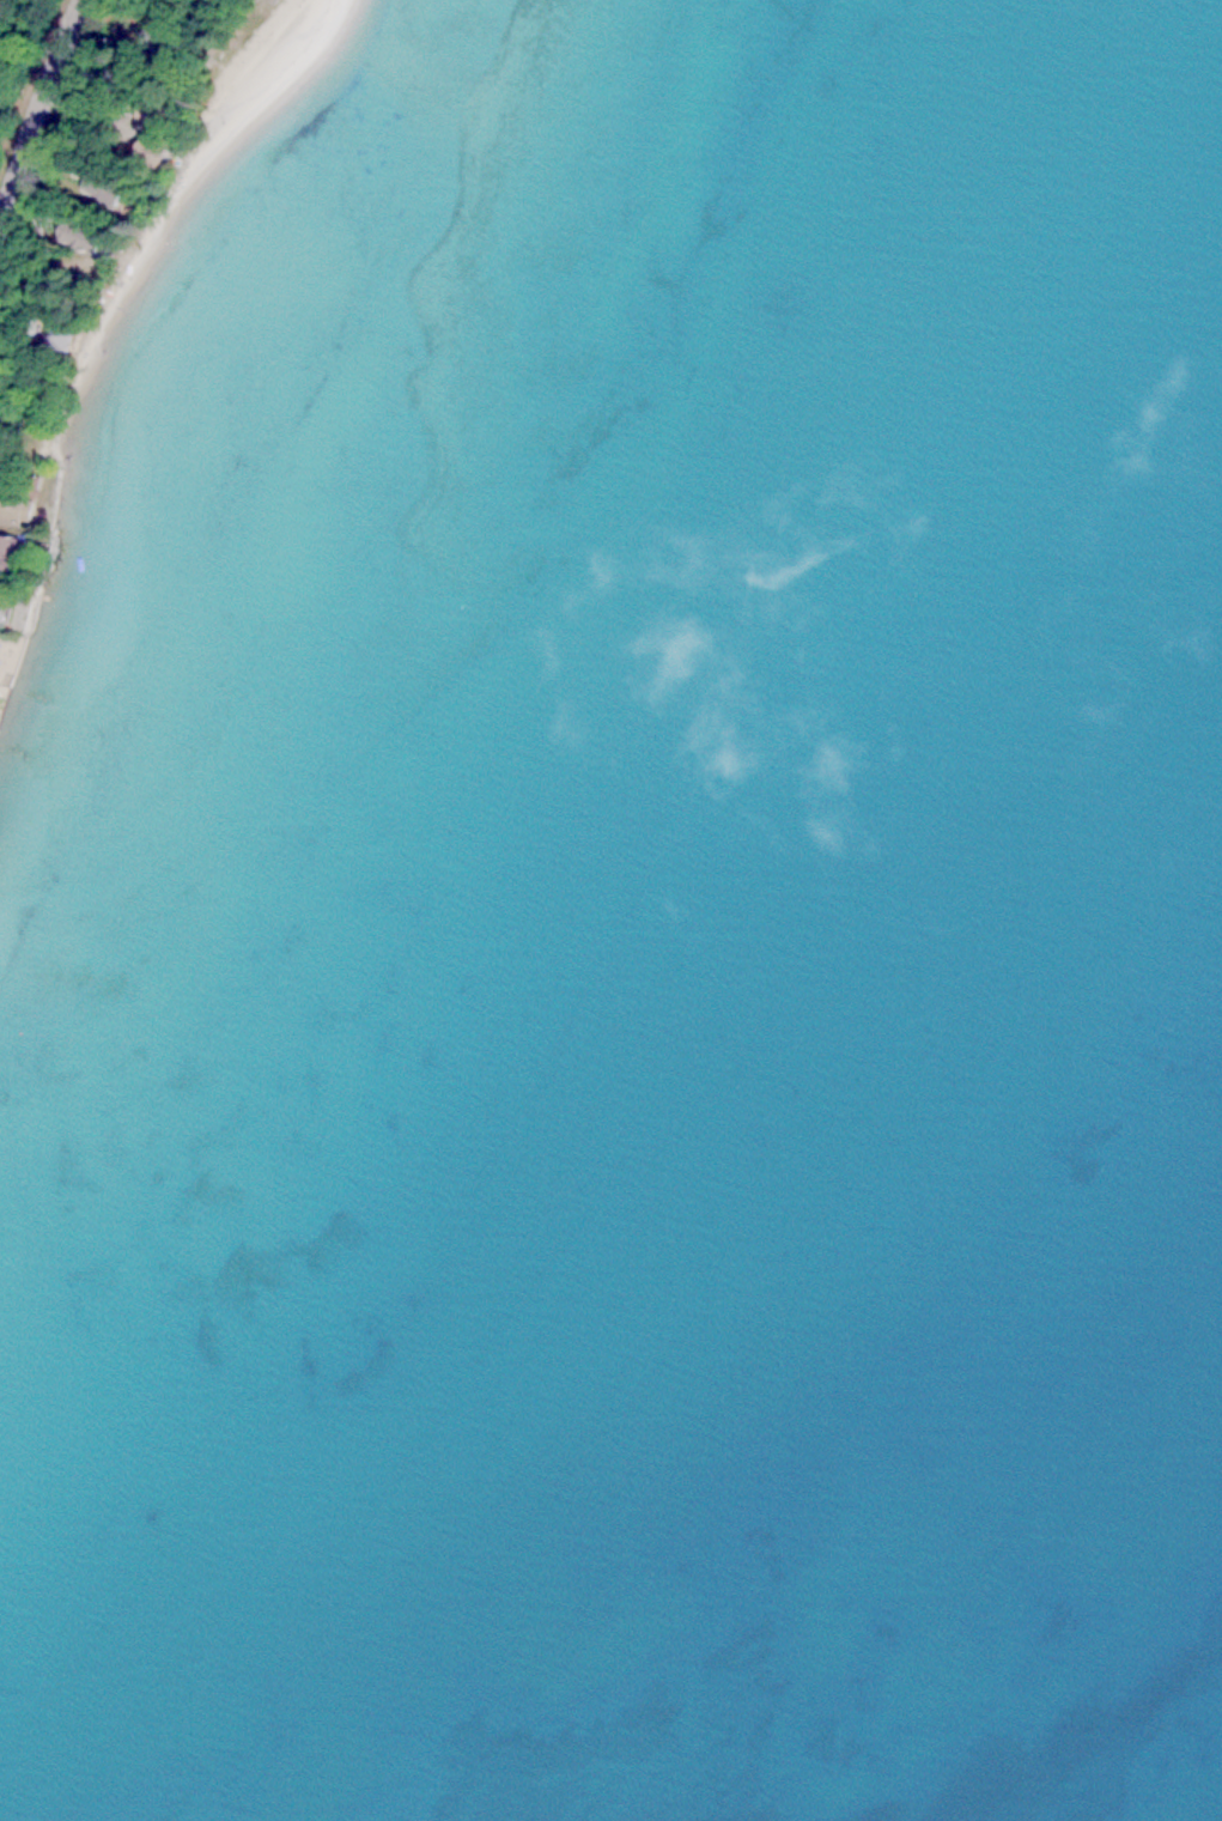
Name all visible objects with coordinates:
building: (157, 36)
road: (37, 103)
building: (152, 129)
building: (98, 187)
building: (73, 235)
building: (51, 333)
building: (10, 504)
building: (7, 552)
building: (0, 597)

